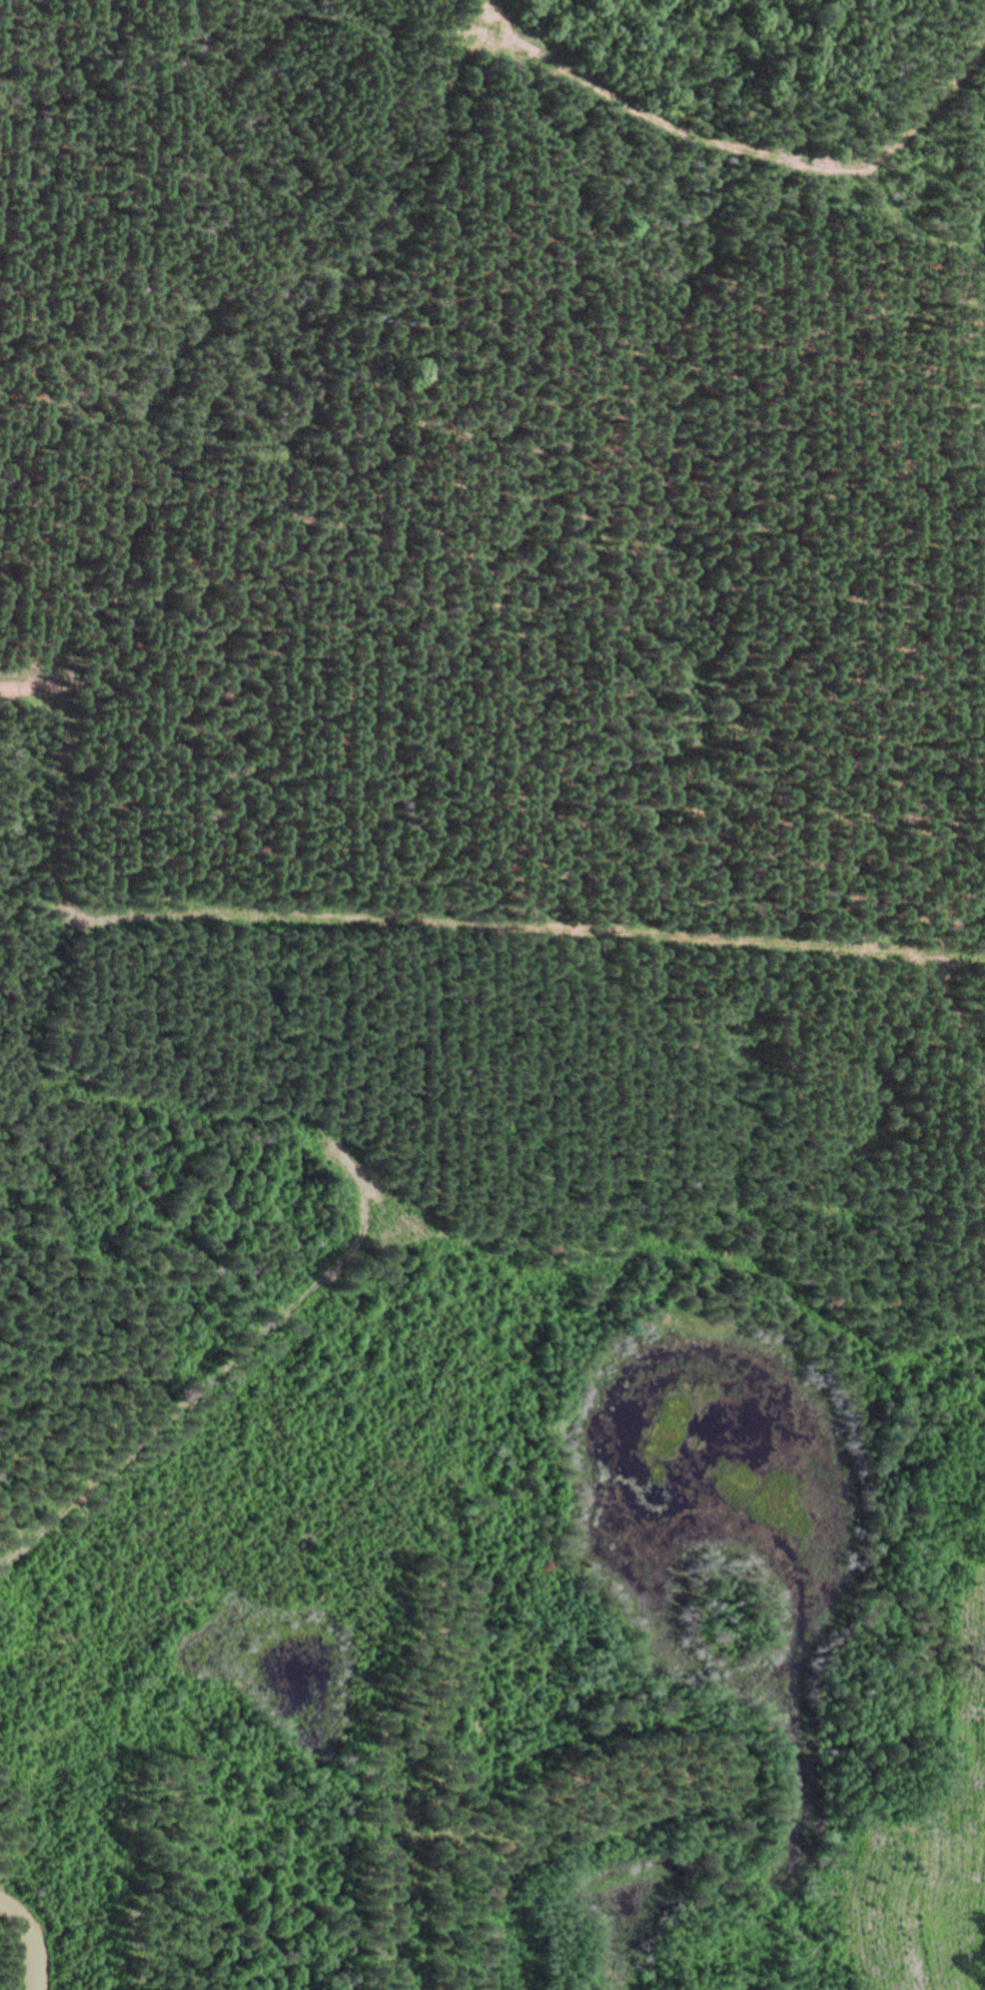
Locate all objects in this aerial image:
road: (42, 1926)

